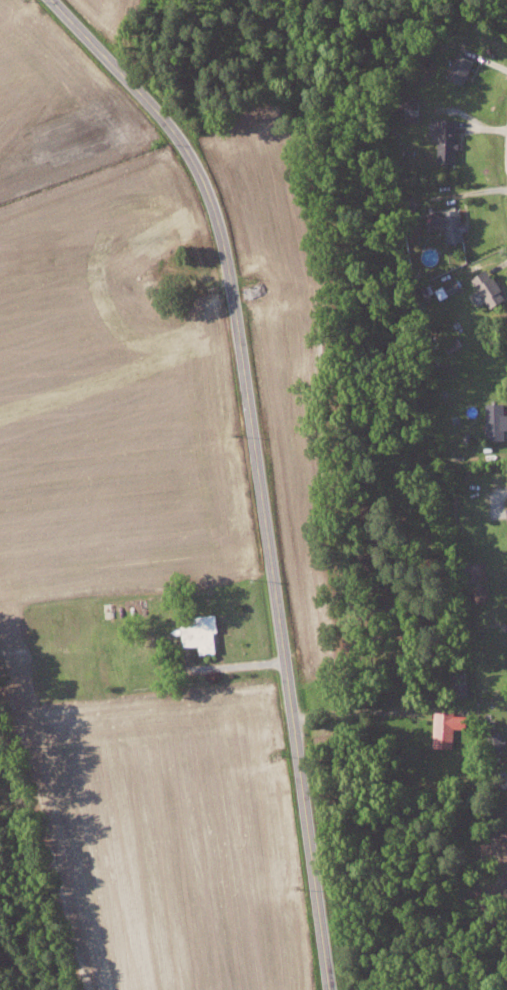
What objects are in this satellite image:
building: (464, 65)
road: (506, 135)
building: (450, 139)
building: (454, 222)
building: (491, 287)
building: (256, 290)
building: (497, 420)
road: (250, 471)
building: (204, 632)
building: (449, 727)

